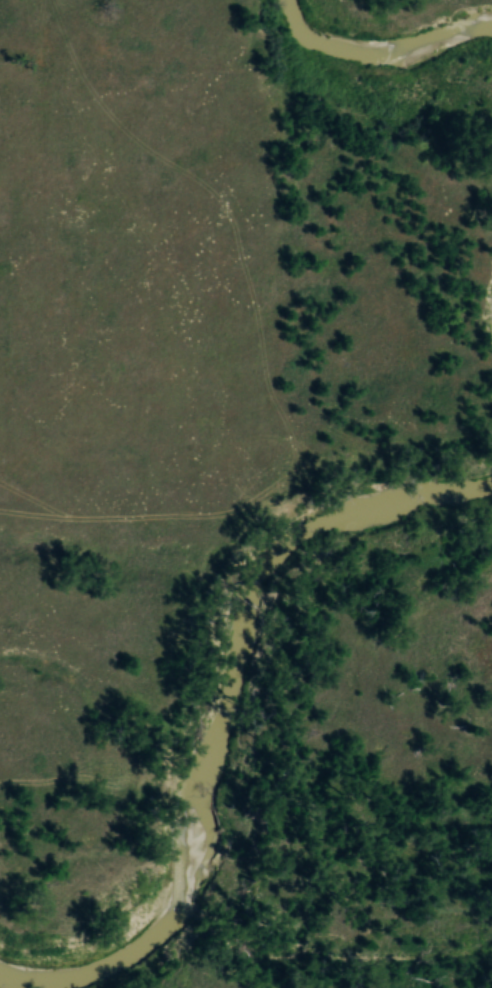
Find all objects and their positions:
river: (379, 50)
river: (228, 705)

